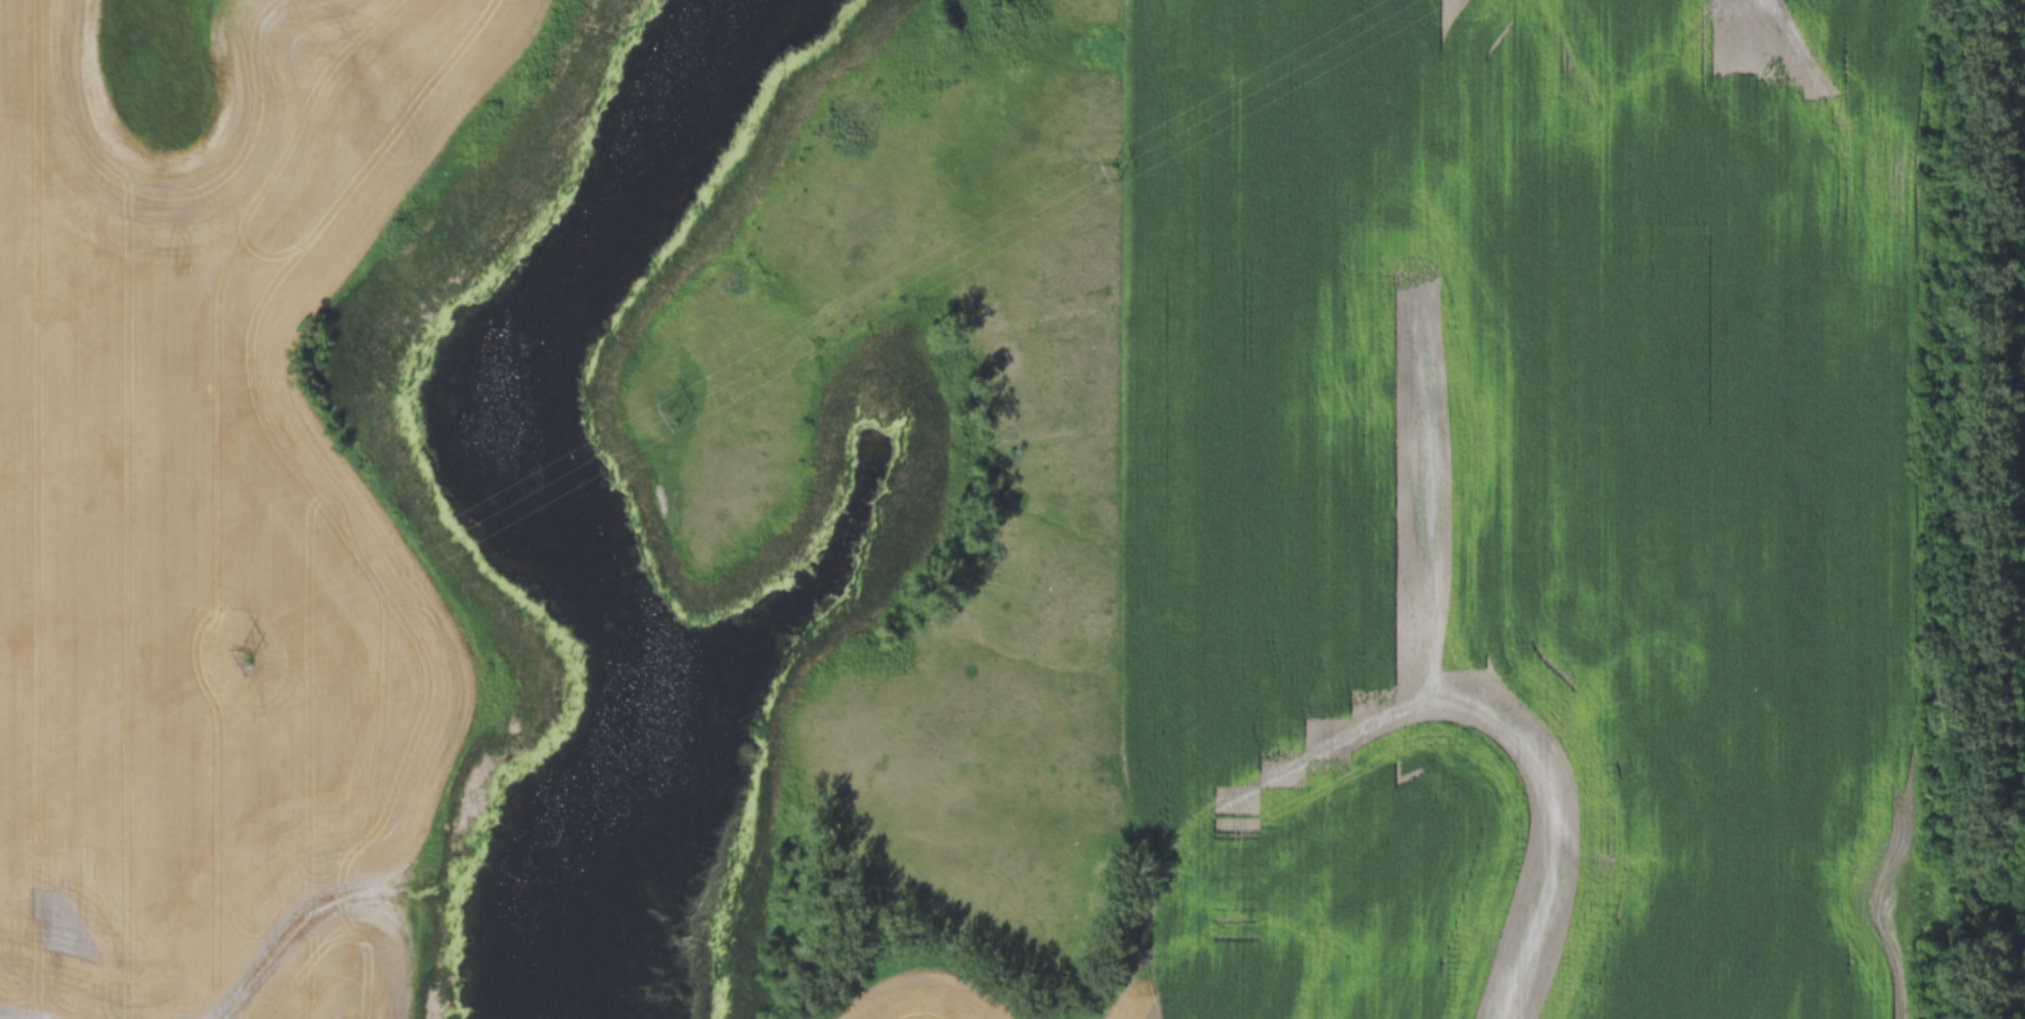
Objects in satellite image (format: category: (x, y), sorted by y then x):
power tower: (1117, 173)
power tower: (671, 419)
power tower: (244, 658)

